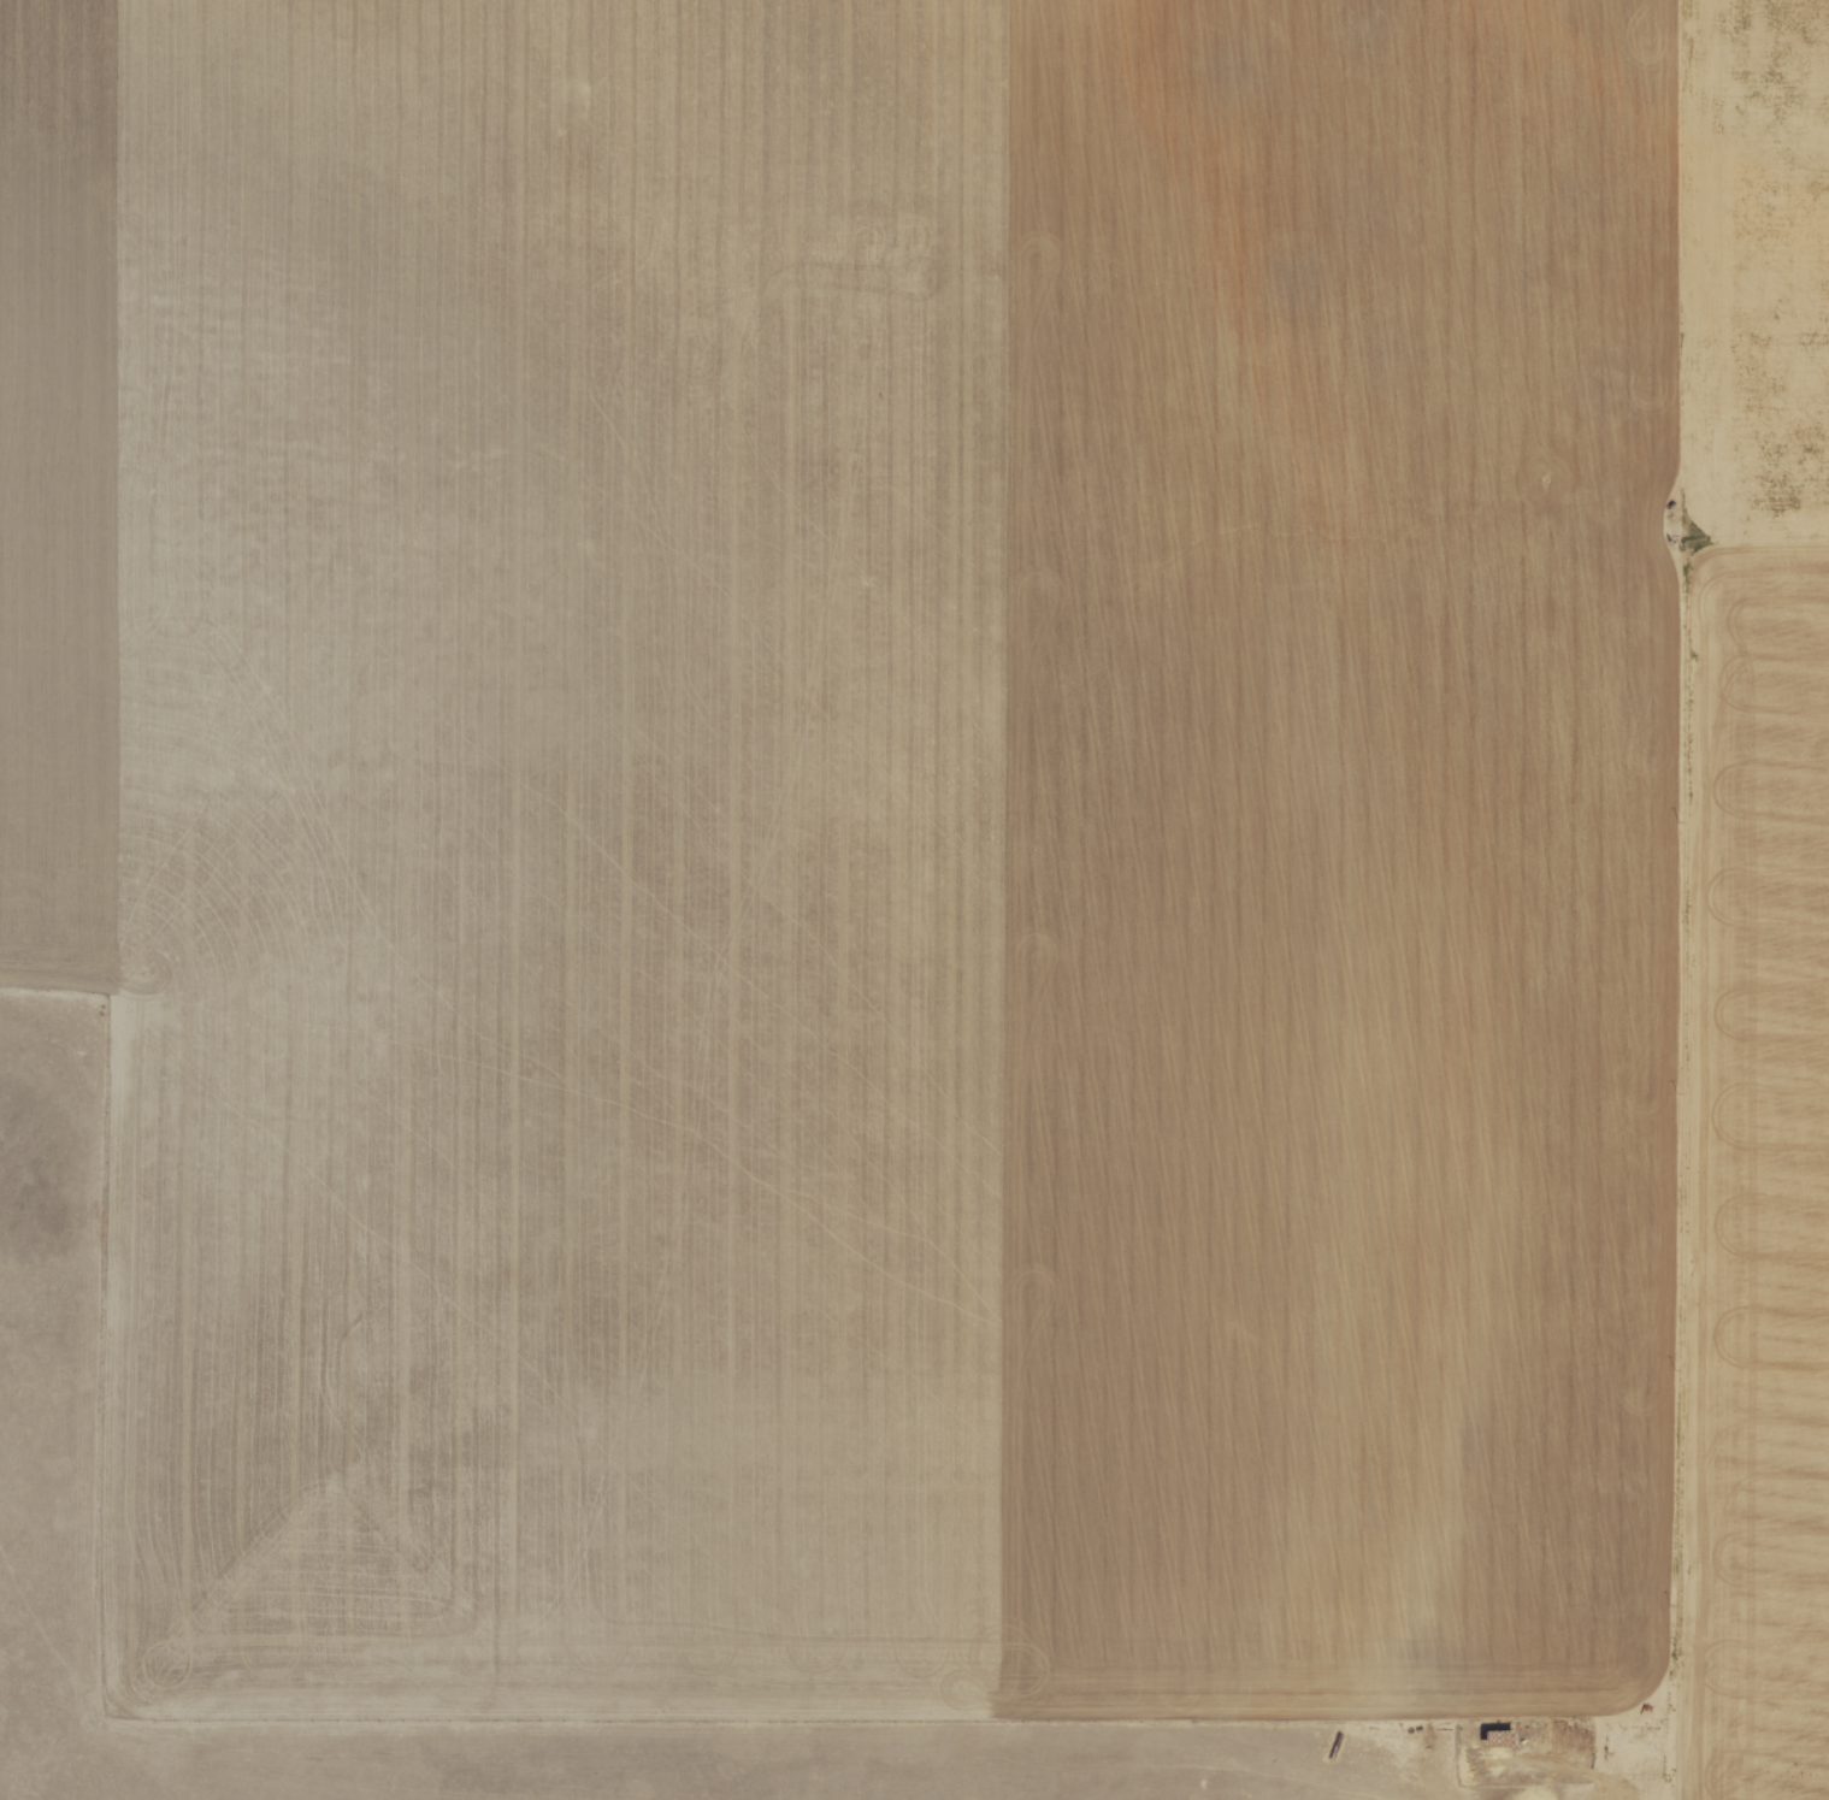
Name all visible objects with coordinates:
road: (1343, 580)
road: (1698, 899)
road: (1754, 1717)
building: (1494, 1737)

